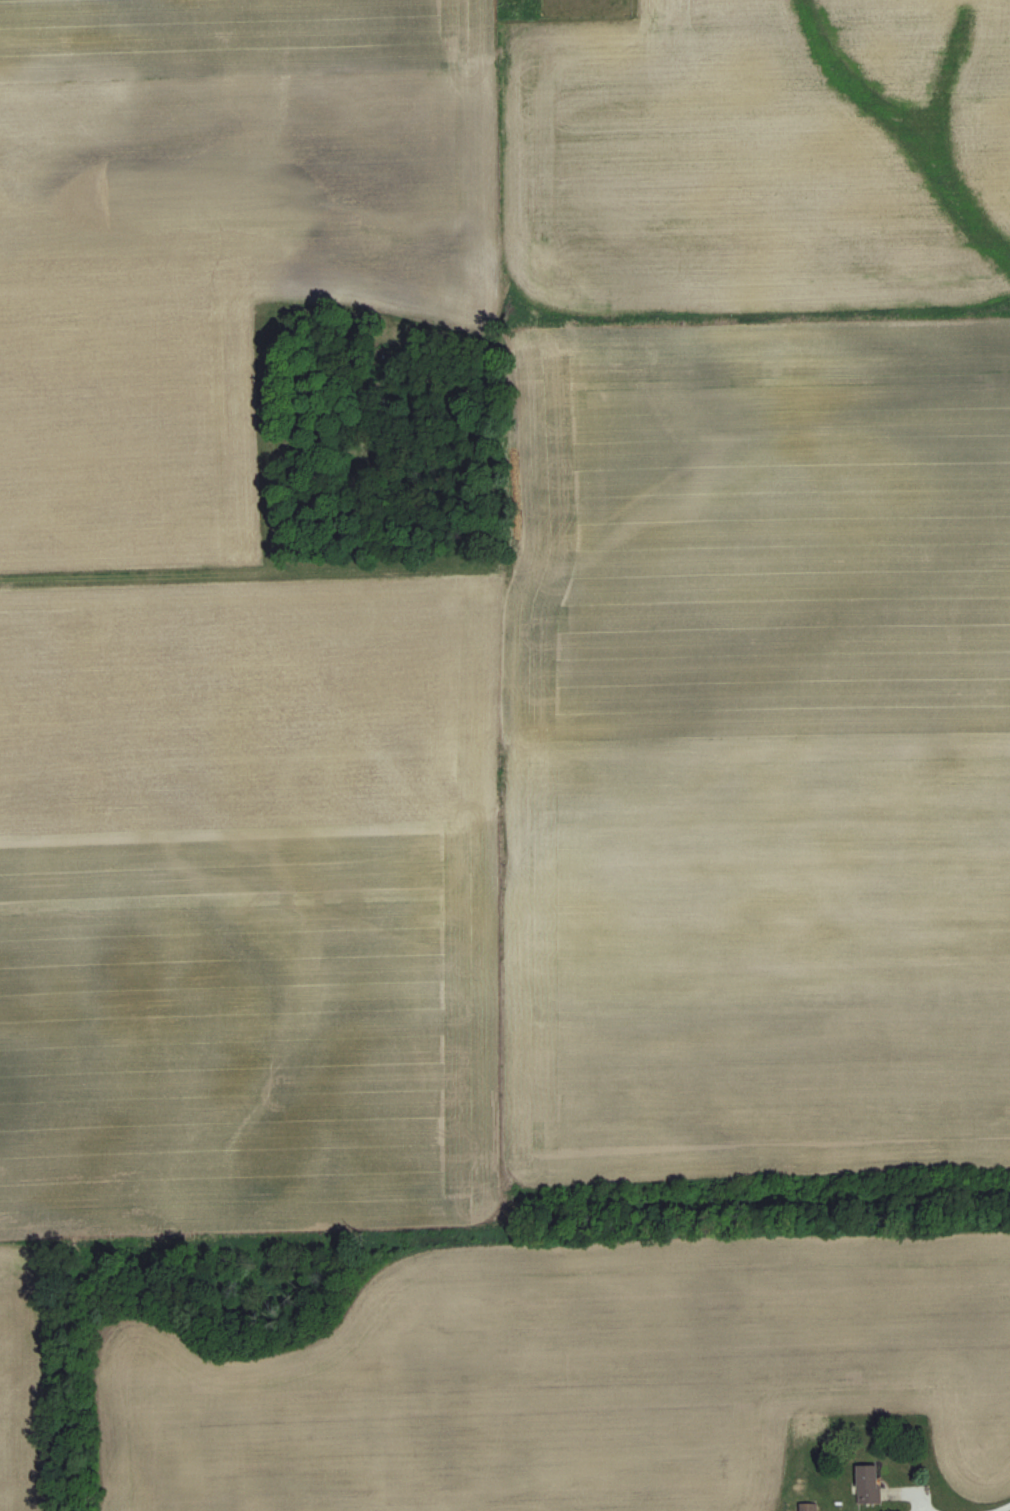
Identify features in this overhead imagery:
building: (868, 1483)
road: (912, 1502)
building: (807, 1506)
road: (1005, 1507)

